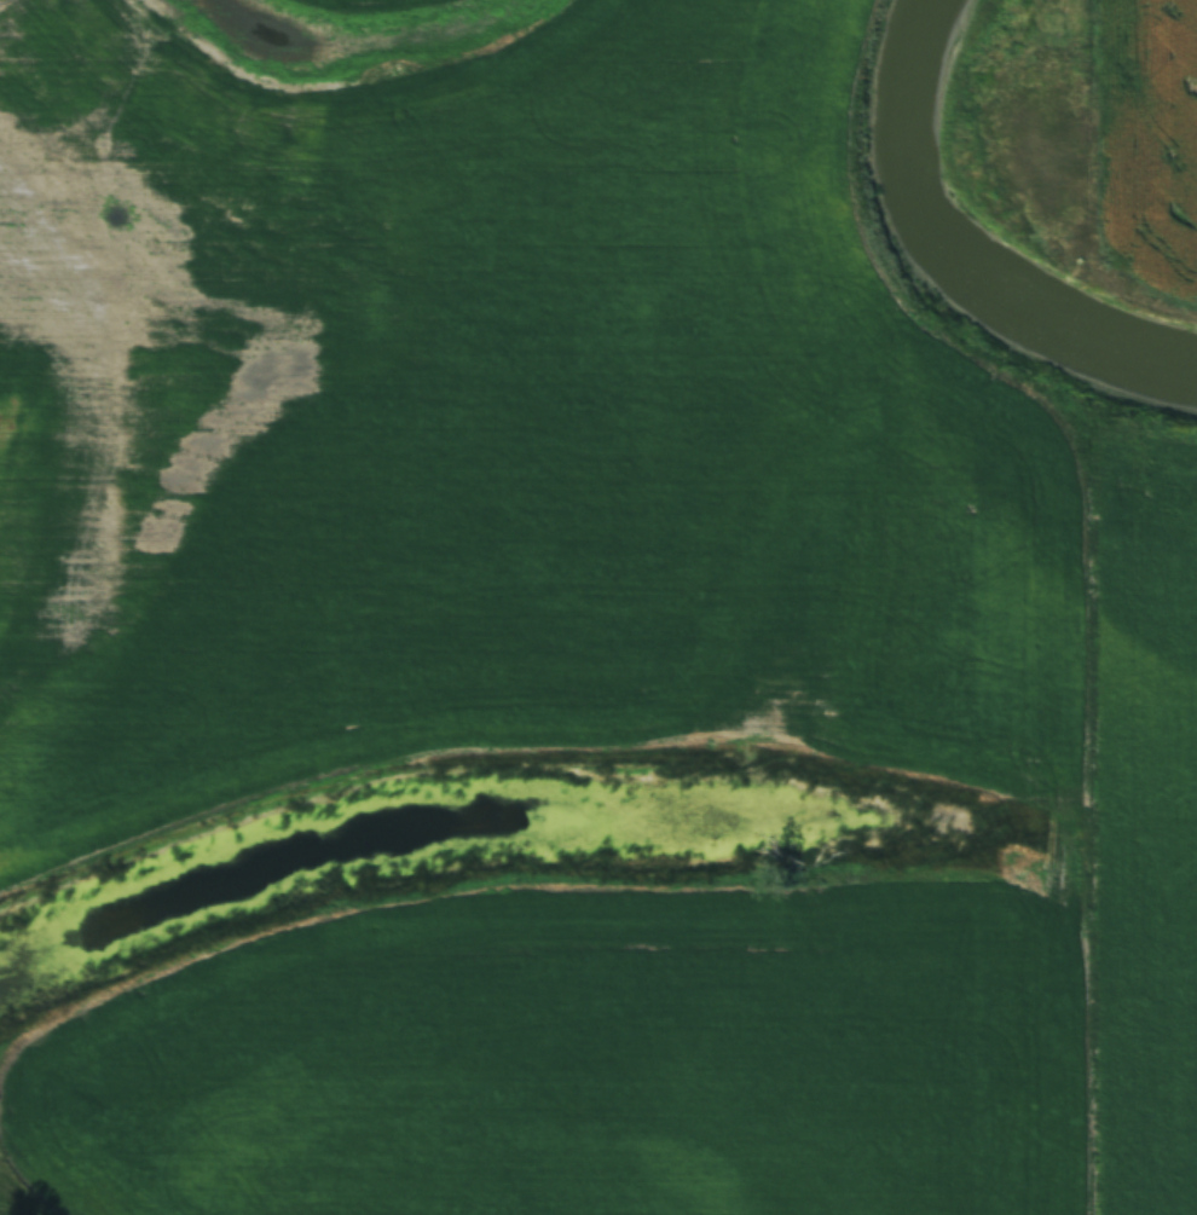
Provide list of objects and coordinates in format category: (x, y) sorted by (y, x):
river: (956, 258)

